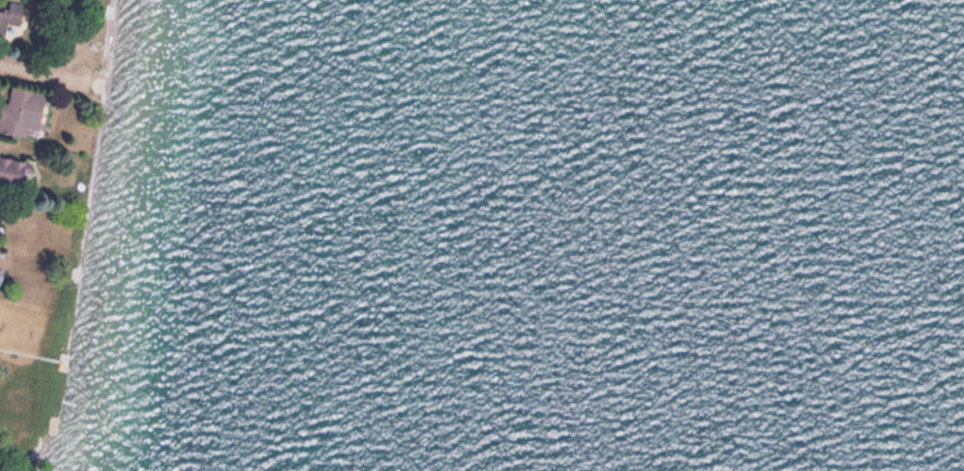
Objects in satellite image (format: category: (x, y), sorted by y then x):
building: (9, 13)
road: (30, 70)
building: (21, 108)
road: (0, 141)
building: (11, 170)
building: (0, 195)
building: (1, 274)
road: (15, 444)

